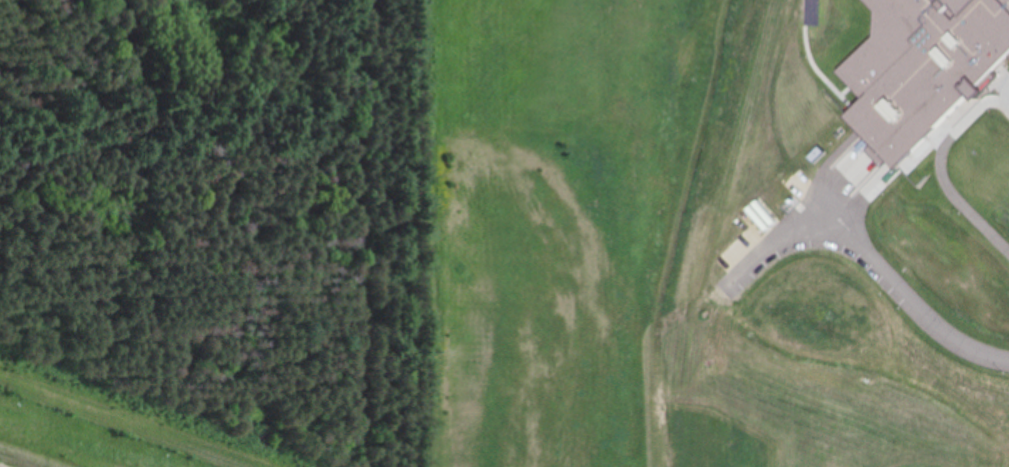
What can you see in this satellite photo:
road: (796, 10)
building: (918, 67)
road: (901, 295)

